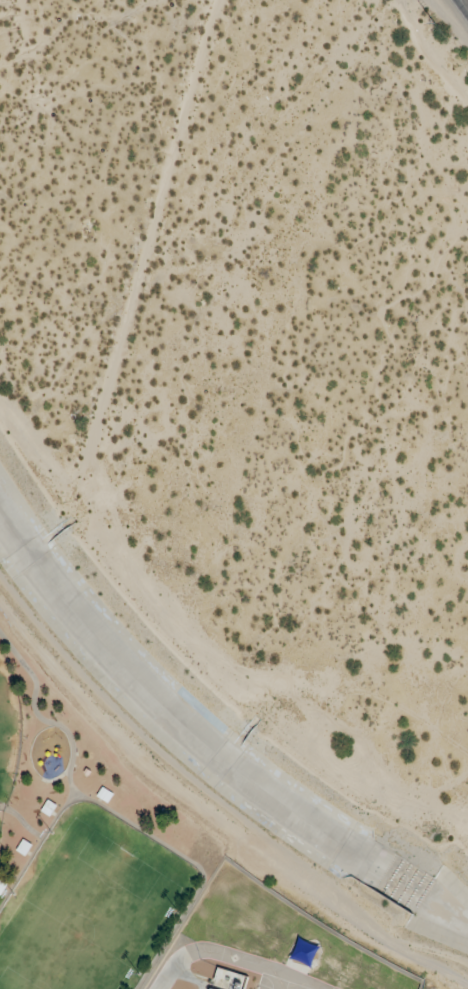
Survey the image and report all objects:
road: (464, 4)
road: (40, 718)
park: (8, 730)
road: (55, 778)
park: (1, 817)
road: (22, 822)
road: (142, 830)
park: (83, 845)
road: (173, 965)

